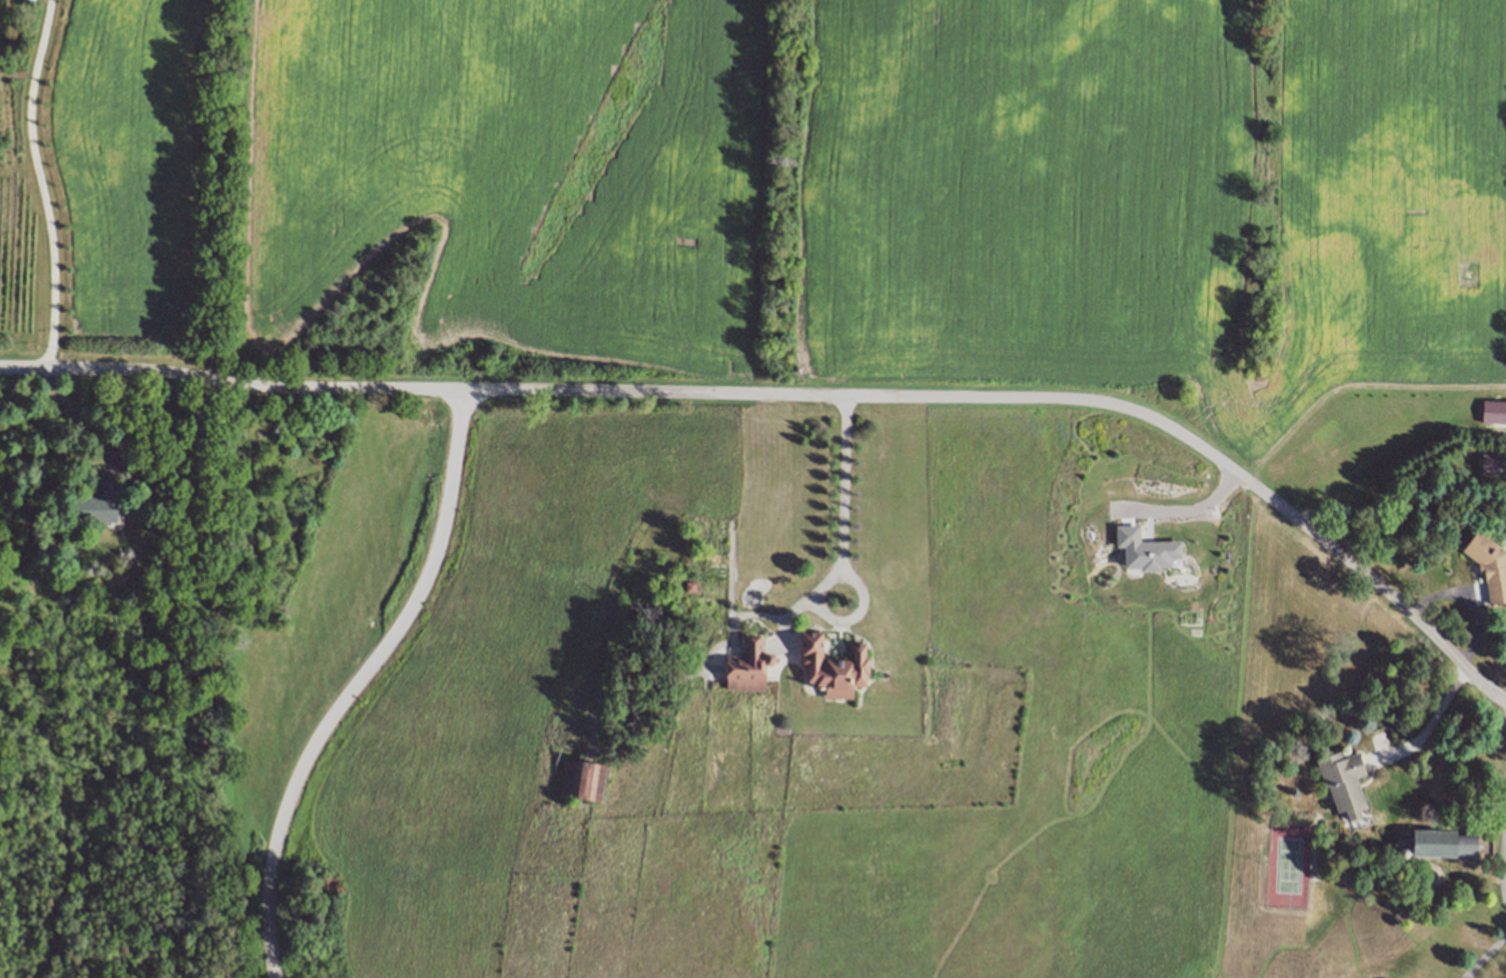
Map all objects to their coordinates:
road: (42, 184)
road: (803, 396)
road: (72, 419)
building: (1493, 463)
building: (99, 503)
road: (842, 557)
building: (1489, 565)
building: (694, 585)
building: (692, 639)
building: (748, 665)
building: (833, 667)
road: (359, 680)
road: (1504, 721)
road: (1429, 725)
building: (583, 780)
building: (1343, 781)
building: (1442, 843)

